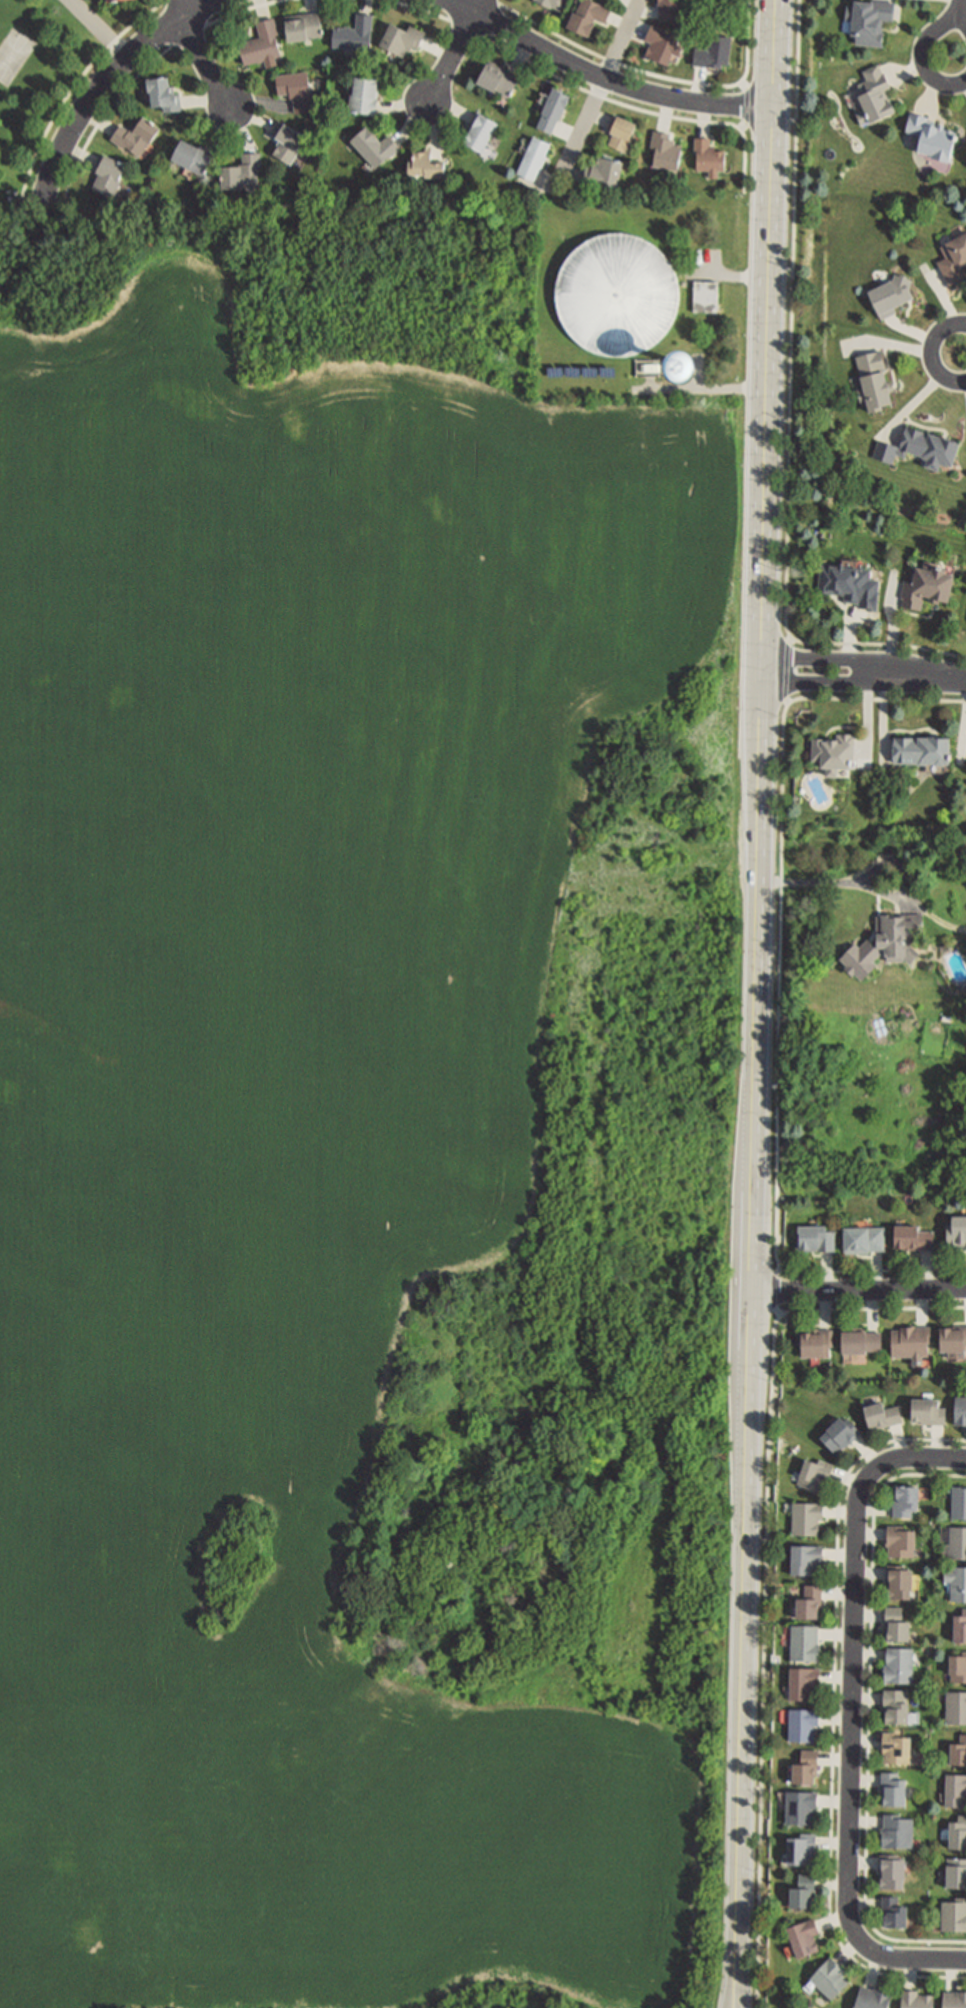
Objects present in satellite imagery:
building: (114, 1)
road: (480, 5)
building: (549, 5)
road: (182, 6)
road: (960, 9)
building: (669, 10)
road: (457, 11)
road: (203, 13)
building: (870, 19)
building: (587, 20)
road: (492, 22)
road: (171, 24)
road: (100, 28)
building: (303, 31)
building: (354, 35)
building: (403, 39)
building: (262, 46)
building: (661, 48)
road: (926, 53)
road: (453, 55)
park: (14, 56)
building: (712, 56)
road: (610, 60)
road: (203, 62)
road: (146, 69)
road: (556, 77)
road: (605, 77)
building: (497, 80)
road: (103, 82)
park: (38, 85)
road: (76, 85)
road: (599, 88)
building: (295, 93)
building: (162, 95)
building: (875, 95)
road: (747, 97)
building: (366, 98)
building: (554, 111)
building: (623, 134)
building: (931, 135)
building: (136, 136)
building: (479, 137)
building: (285, 145)
building: (374, 147)
building: (667, 153)
building: (191, 158)
building: (535, 159)
building: (710, 159)
building: (422, 163)
building: (108, 174)
building: (604, 175)
building: (242, 177)
road: (768, 253)
building: (954, 257)
building: (891, 290)
building: (618, 291)
storage tank: (618, 291)
building: (707, 298)
road: (933, 352)
water tower: (685, 365)
building: (687, 365)
building: (874, 376)
road: (700, 389)
road: (791, 407)
building: (921, 441)
building: (846, 578)
building: (926, 582)
road: (839, 661)
road: (787, 670)
road: (942, 676)
road: (839, 681)
building: (923, 744)
building: (833, 751)
road: (809, 883)
building: (895, 934)
road: (781, 989)
crop: (298, 1140)
building: (957, 1227)
building: (814, 1234)
building: (914, 1234)
building: (863, 1236)
road: (750, 1237)
road: (777, 1287)
road: (858, 1290)
road: (779, 1313)
building: (861, 1337)
building: (954, 1337)
building: (911, 1338)
building: (817, 1339)
building: (960, 1406)
building: (928, 1408)
building: (882, 1412)
building: (841, 1431)
building: (814, 1471)
building: (906, 1496)
building: (959, 1499)
building: (807, 1515)
building: (900, 1537)
building: (958, 1539)
building: (806, 1555)
road: (767, 1568)
building: (899, 1579)
building: (957, 1580)
building: (809, 1601)
building: (896, 1622)
building: (960, 1623)
building: (805, 1640)
building: (899, 1663)
building: (958, 1664)
building: (804, 1679)
building: (896, 1703)
building: (956, 1704)
road: (852, 1711)
road: (835, 1712)
road: (870, 1712)
building: (803, 1721)
building: (896, 1745)
building: (959, 1747)
building: (807, 1764)
building: (894, 1786)
building: (956, 1787)
building: (801, 1804)
building: (896, 1828)
building: (958, 1830)
building: (802, 1849)
building: (892, 1871)
building: (957, 1872)
building: (803, 1891)
building: (894, 1911)
building: (954, 1913)
building: (804, 1936)
building: (830, 1976)
road: (734, 1987)
road: (741, 1987)
building: (872, 1996)
building: (954, 1998)
building: (917, 1999)

